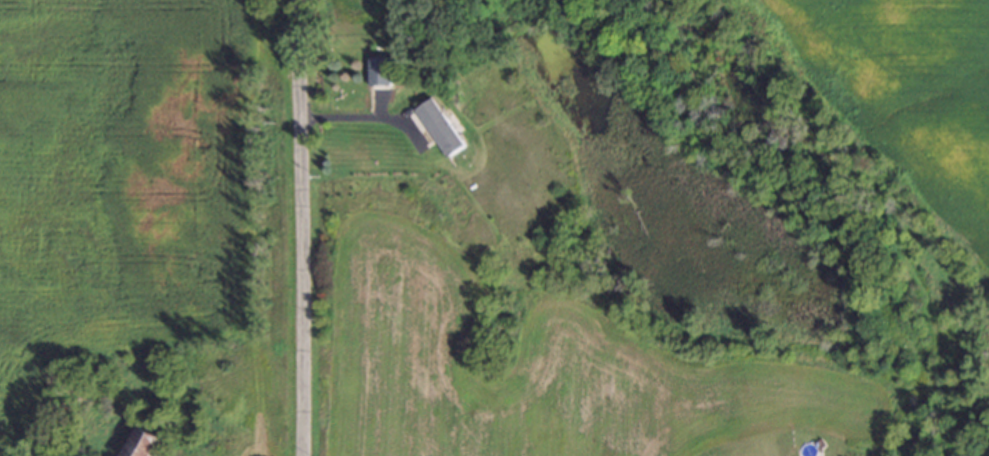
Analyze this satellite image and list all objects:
building: (378, 69)
building: (439, 127)
road: (308, 228)
building: (139, 441)

